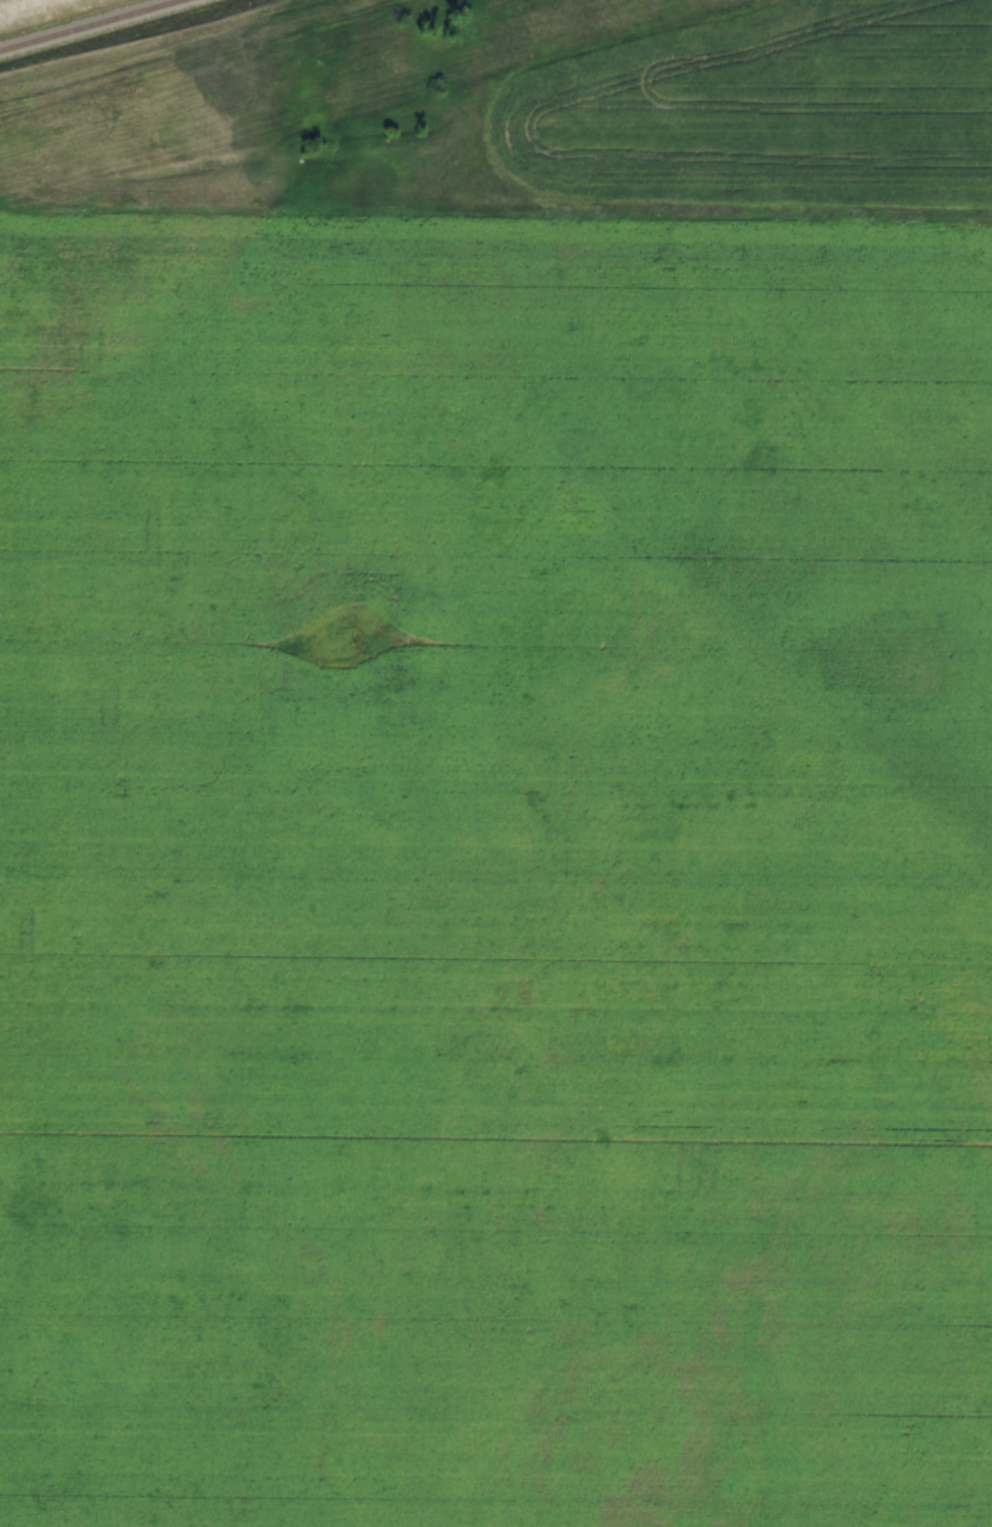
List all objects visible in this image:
railway: (114, 30)

